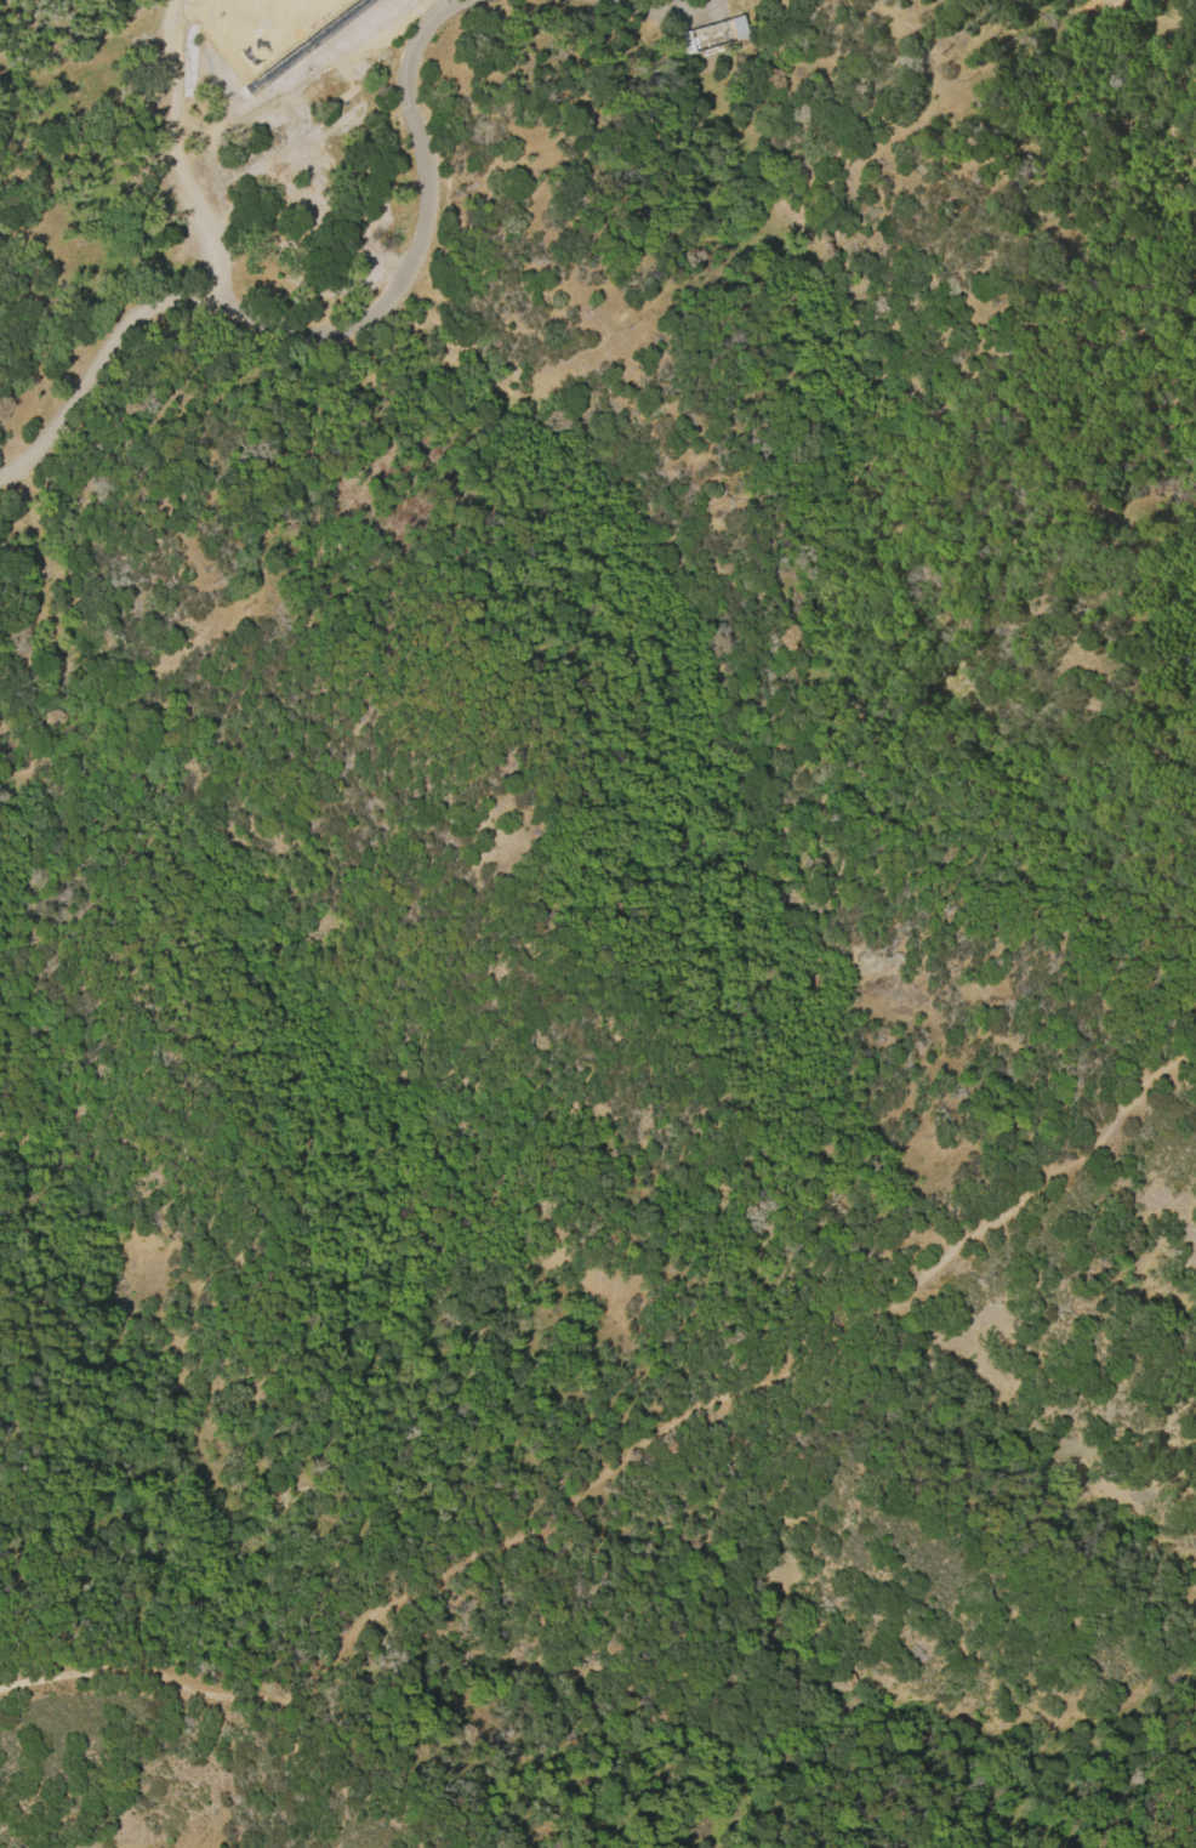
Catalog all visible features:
road: (679, 2)
road: (674, 6)
building: (321, 7)
building: (737, 28)
road: (173, 153)
road: (328, 328)
road: (625, 1461)

